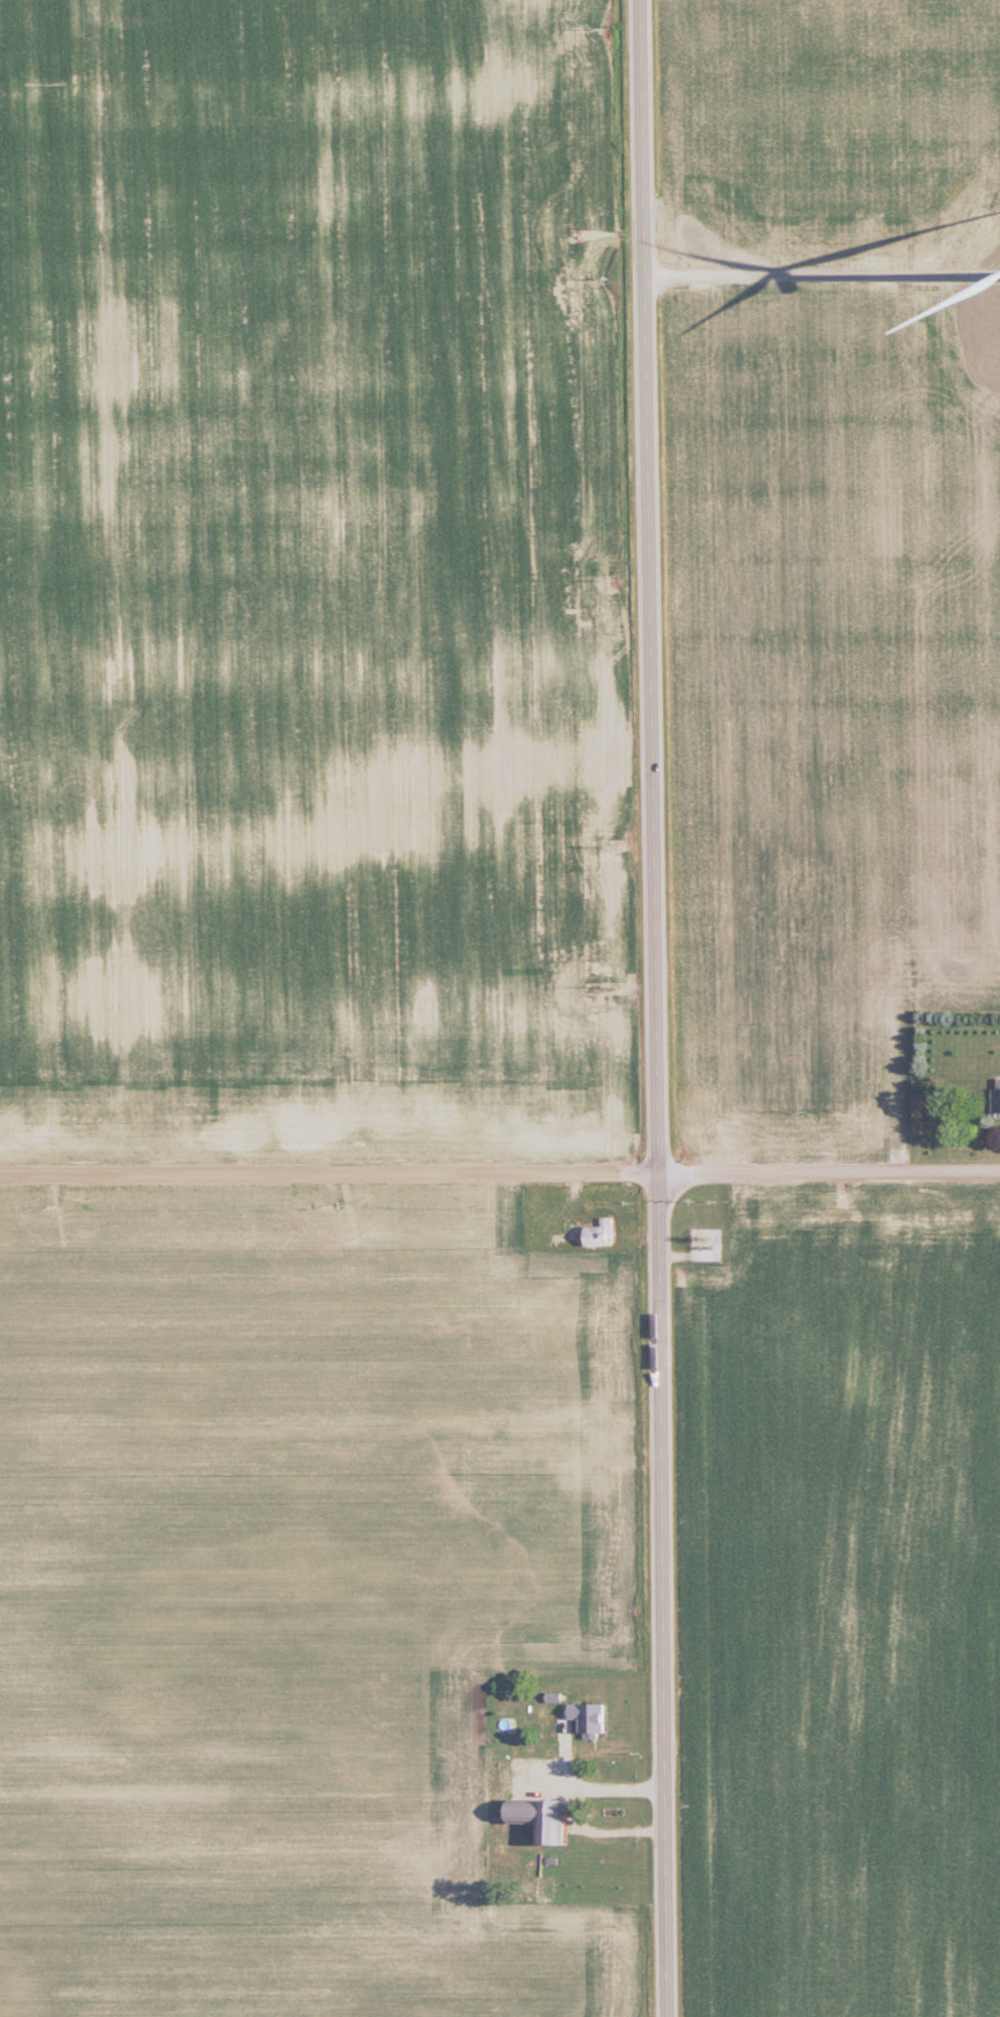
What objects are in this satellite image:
road: (656, 1008)
building: (995, 1099)
road: (499, 1175)
building: (599, 1233)
building: (588, 1718)
road: (562, 1761)
building: (527, 1804)
road: (573, 1805)
building: (548, 1889)

